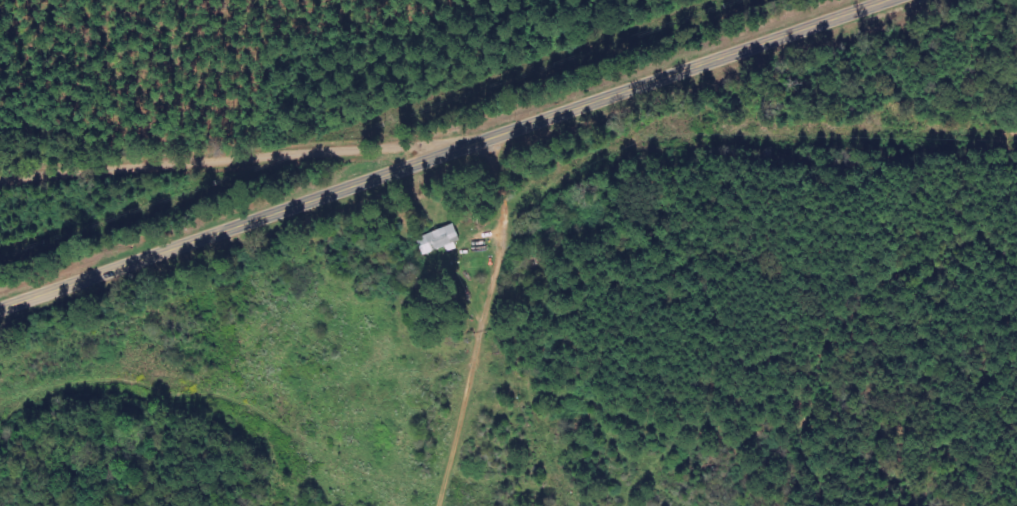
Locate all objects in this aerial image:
road: (447, 152)
road: (231, 161)
building: (441, 241)

